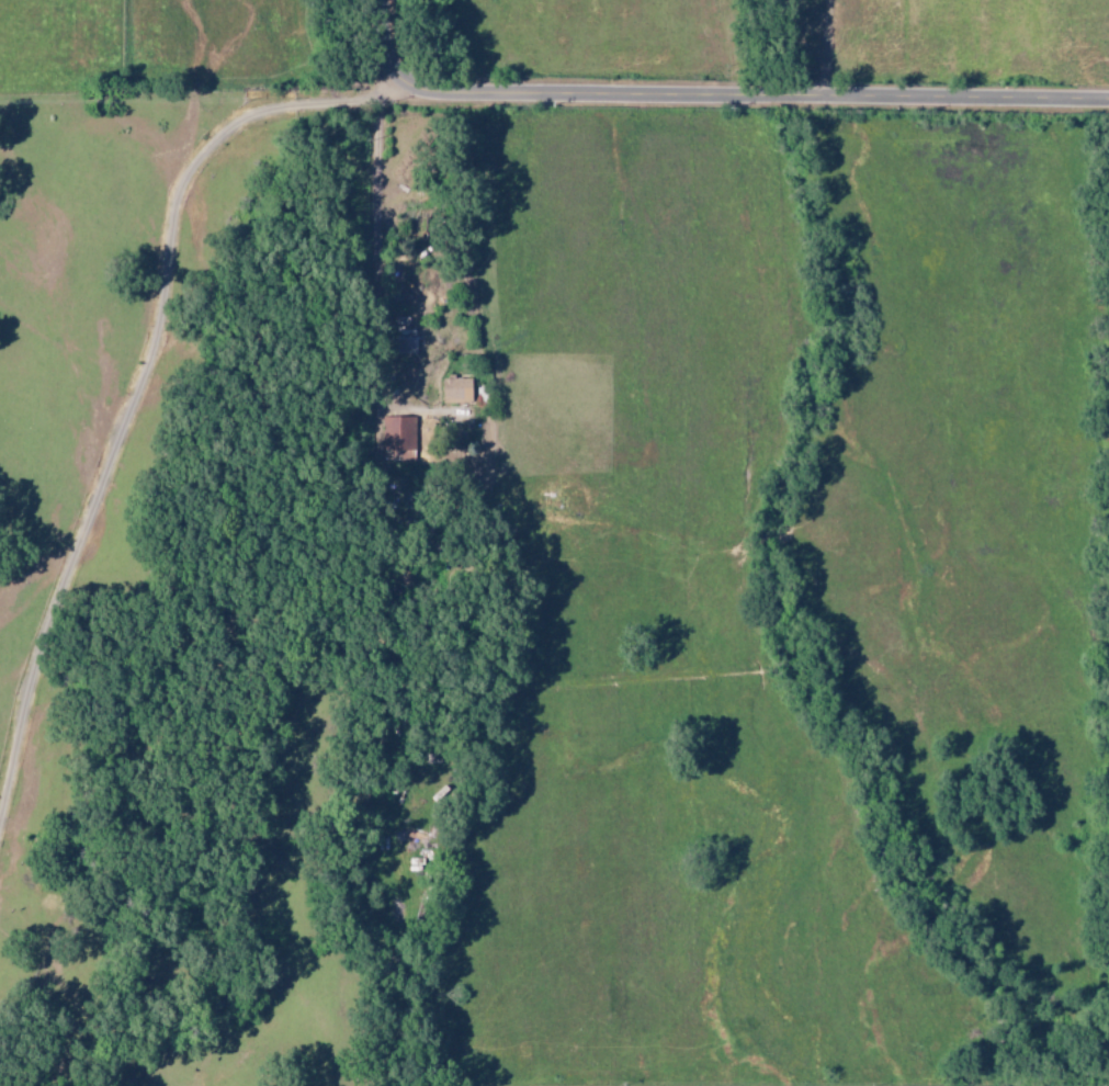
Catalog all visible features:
road: (712, 95)
road: (144, 386)
building: (457, 389)
building: (399, 438)

